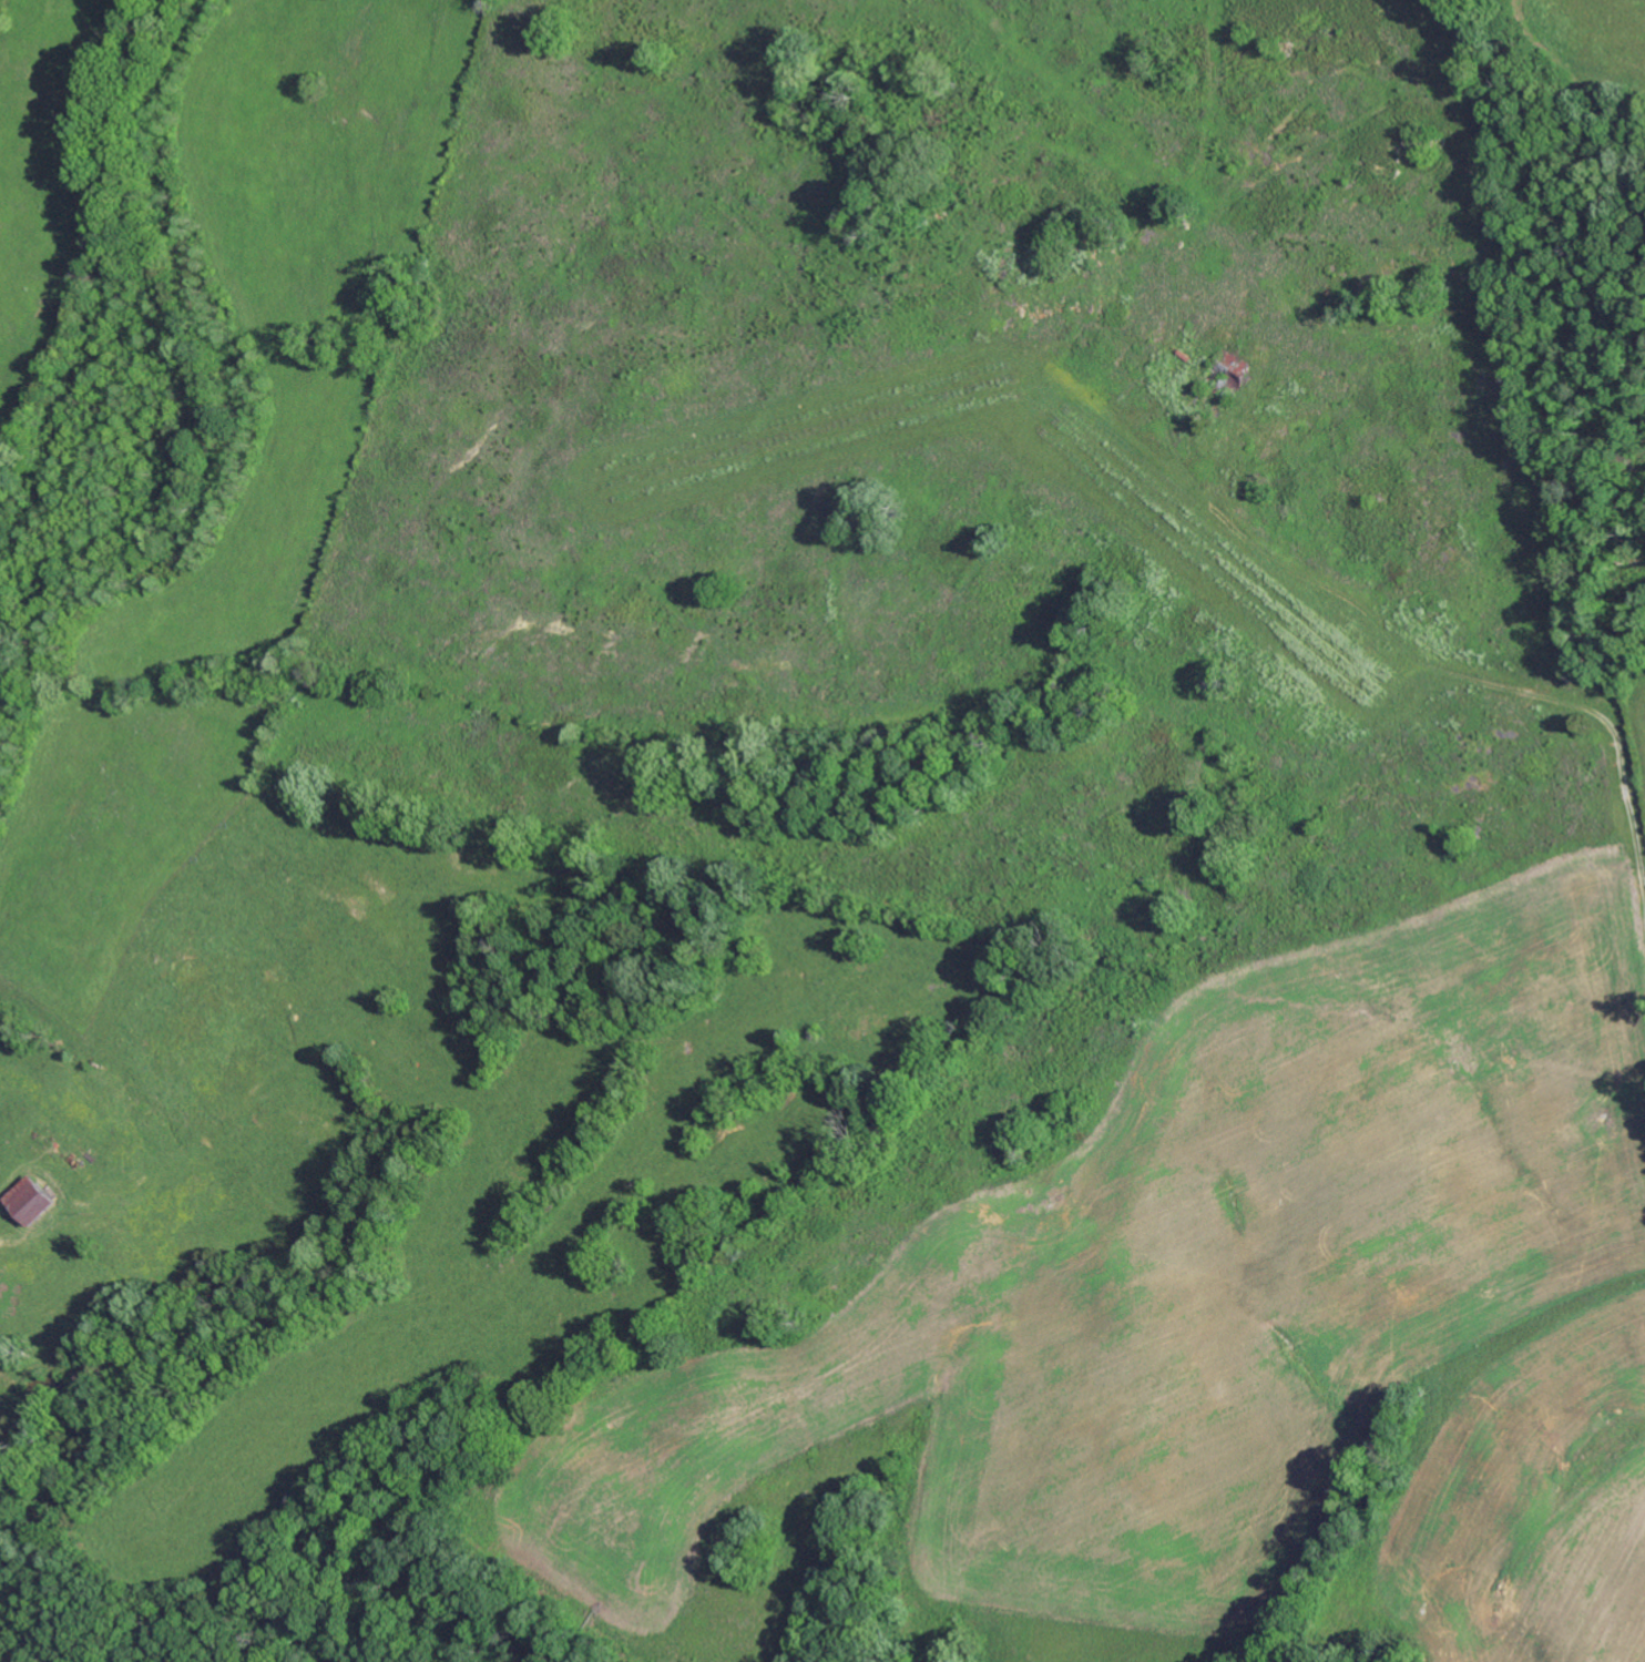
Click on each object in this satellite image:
building: (31, 1199)

